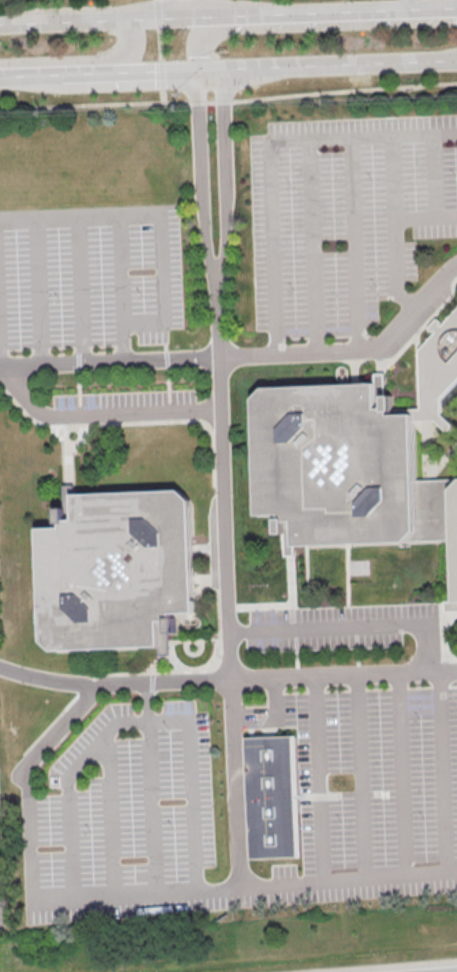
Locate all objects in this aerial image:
road: (405, 4)
road: (181, 7)
road: (339, 11)
road: (111, 18)
traffic signals: (124, 18)
road: (198, 37)
road: (132, 48)
road: (326, 66)
traffic signals: (196, 72)
road: (157, 73)
road: (97, 75)
road: (38, 76)
road: (228, 100)
road: (264, 151)
road: (432, 174)
road: (224, 181)
road: (199, 183)
parking lot: (343, 215)
road: (423, 215)
road: (391, 225)
road: (158, 226)
road: (351, 244)
road: (309, 246)
road: (117, 269)
parking lot: (89, 274)
road: (77, 287)
road: (36, 289)
road: (247, 354)
building: (438, 371)
parking lot: (122, 405)
road: (99, 413)
building: (345, 471)
road: (223, 486)
building: (118, 573)
road: (346, 621)
parking lot: (324, 629)
road: (227, 680)
road: (139, 720)
road: (442, 772)
road: (401, 775)
road: (360, 777)
road: (318, 780)
road: (22, 782)
road: (281, 782)
road: (235, 784)
building: (270, 796)
parking lot: (245, 805)
road: (150, 807)
road: (108, 816)
road: (243, 888)

